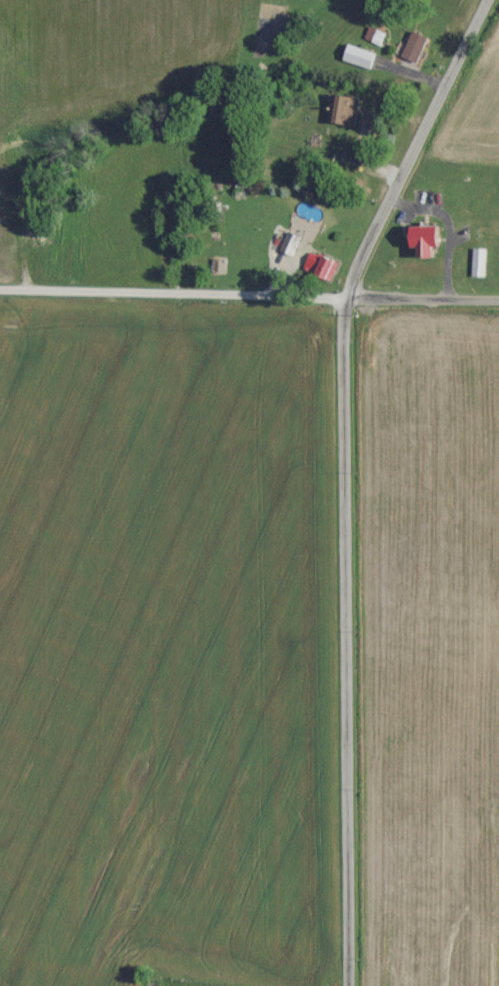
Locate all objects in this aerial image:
building: (377, 36)
building: (417, 47)
building: (363, 57)
building: (347, 109)
road: (21, 237)
building: (435, 240)
building: (288, 243)
building: (480, 263)
building: (322, 265)
road: (12, 290)
road: (276, 299)
road: (337, 475)

